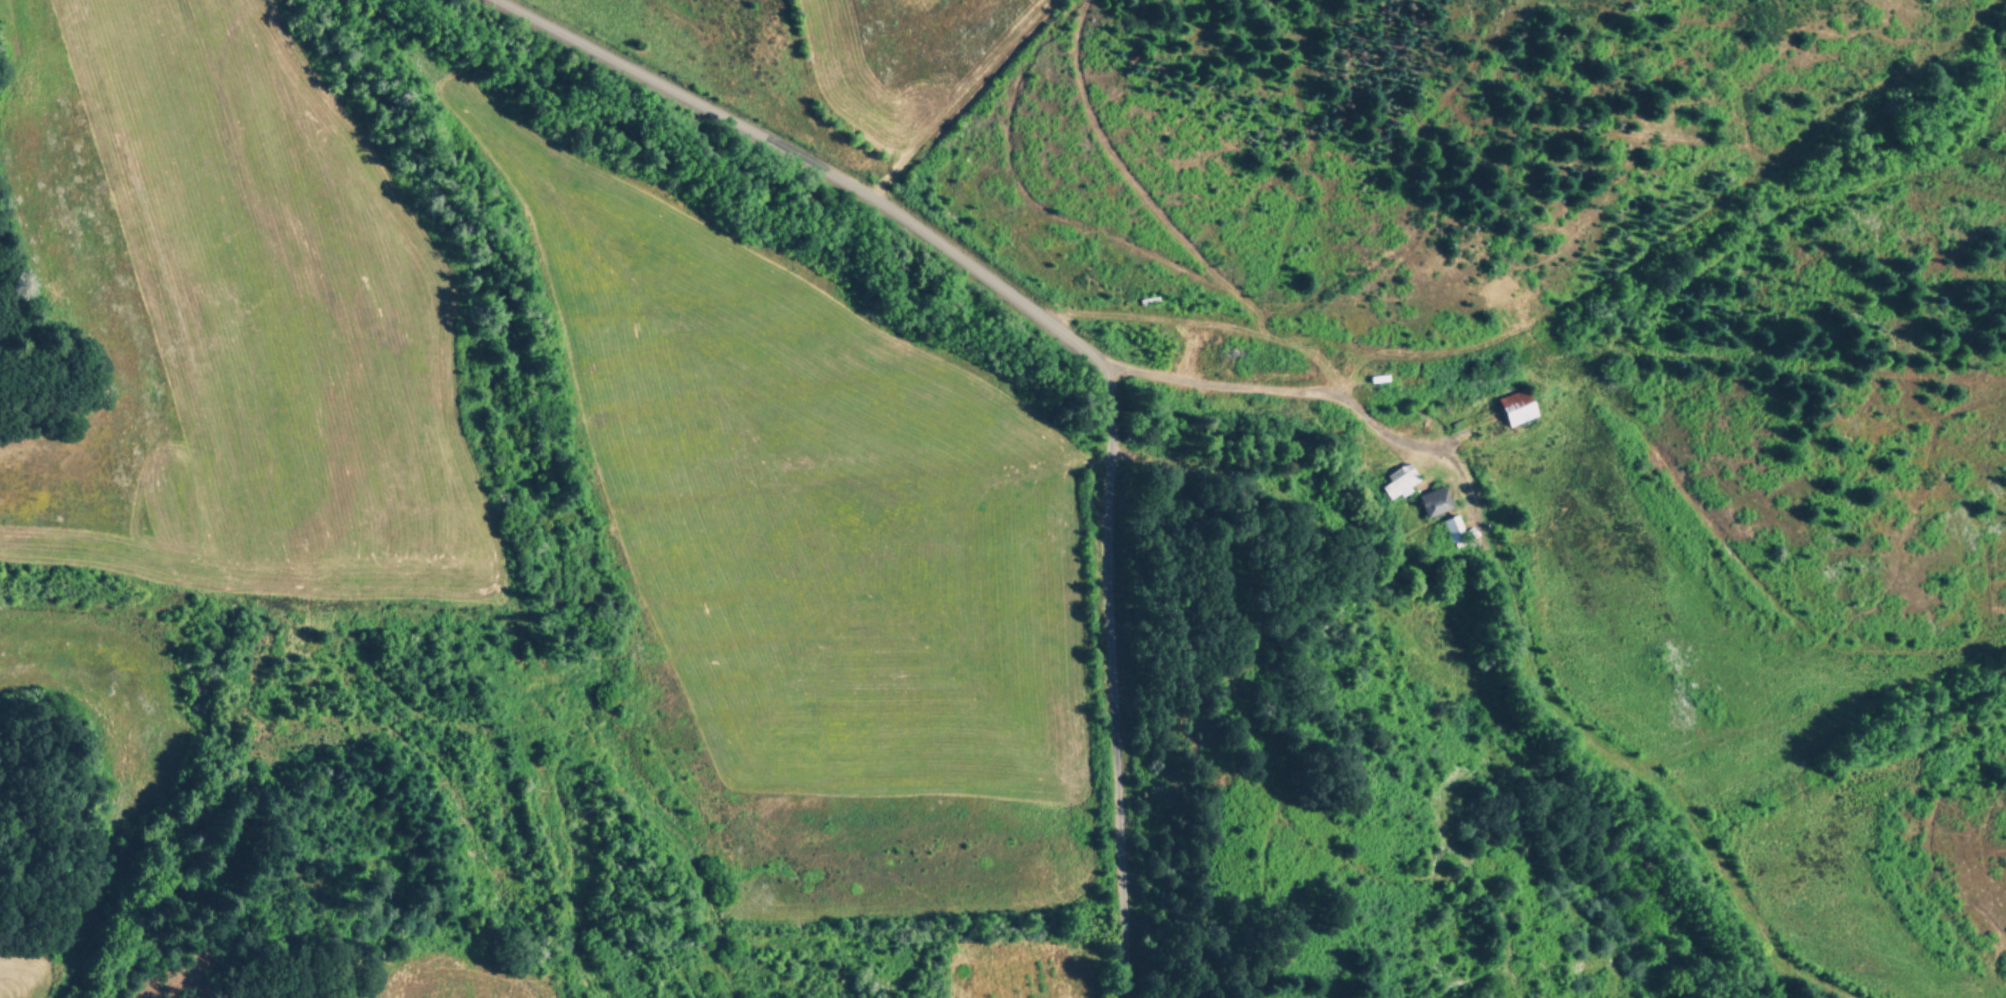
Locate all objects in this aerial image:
road: (810, 164)
building: (1513, 409)
road: (1385, 430)
building: (1399, 481)
building: (1434, 503)
crop: (568, 508)
building: (1454, 529)
road: (1441, 629)
road: (1112, 682)

